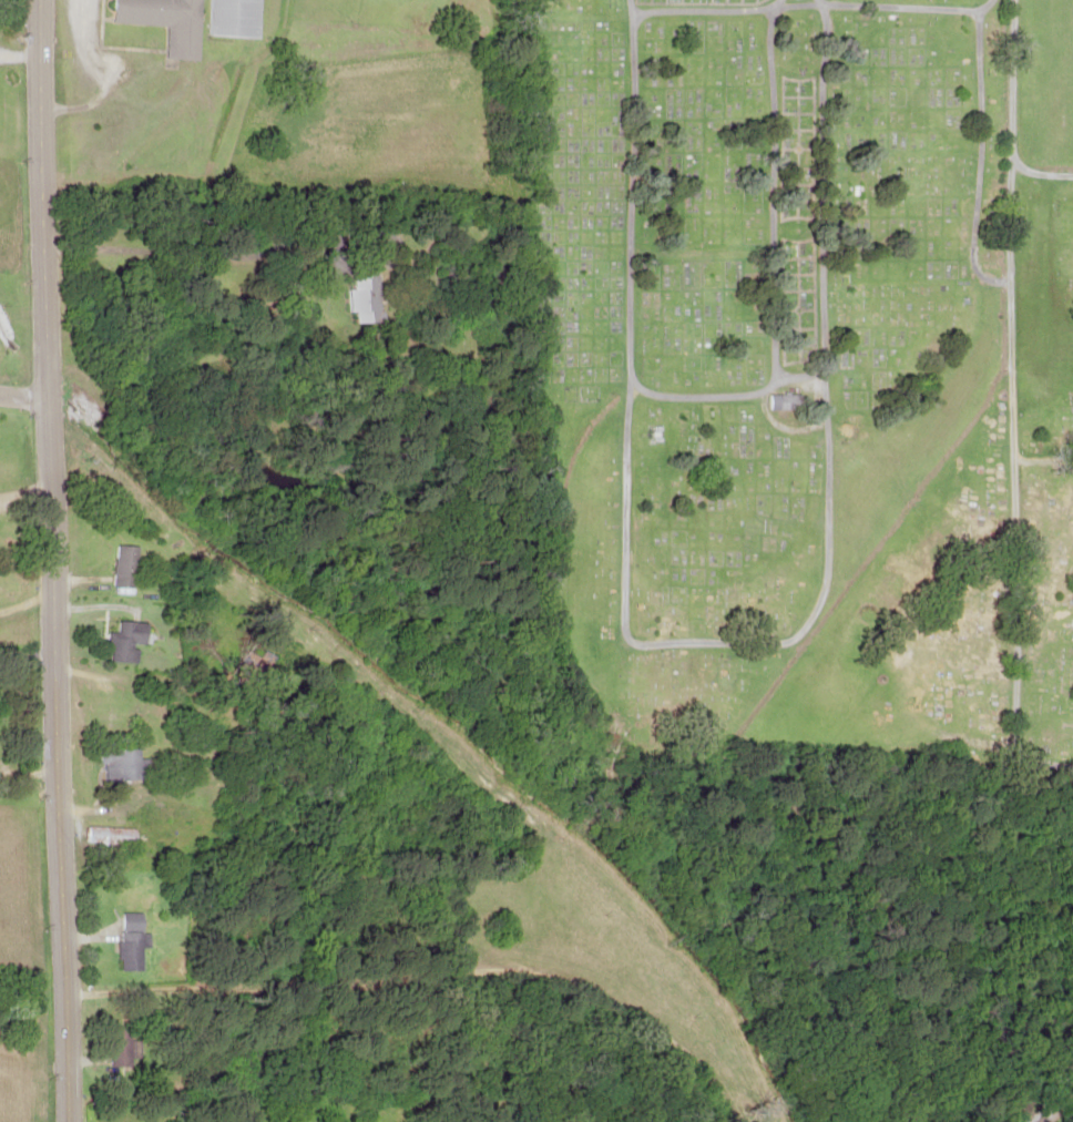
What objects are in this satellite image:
road: (903, 6)
road: (705, 9)
building: (236, 18)
building: (166, 22)
road: (1009, 79)
road: (1038, 172)
road: (627, 185)
road: (774, 191)
building: (364, 297)
park: (801, 370)
road: (22, 390)
road: (698, 392)
building: (781, 400)
road: (1040, 458)
road: (1008, 469)
road: (820, 540)
road: (52, 560)
building: (129, 565)
building: (133, 641)
road: (161, 677)
building: (129, 766)
building: (115, 838)
building: (135, 940)
building: (126, 1047)
railway: (1043, 1084)

